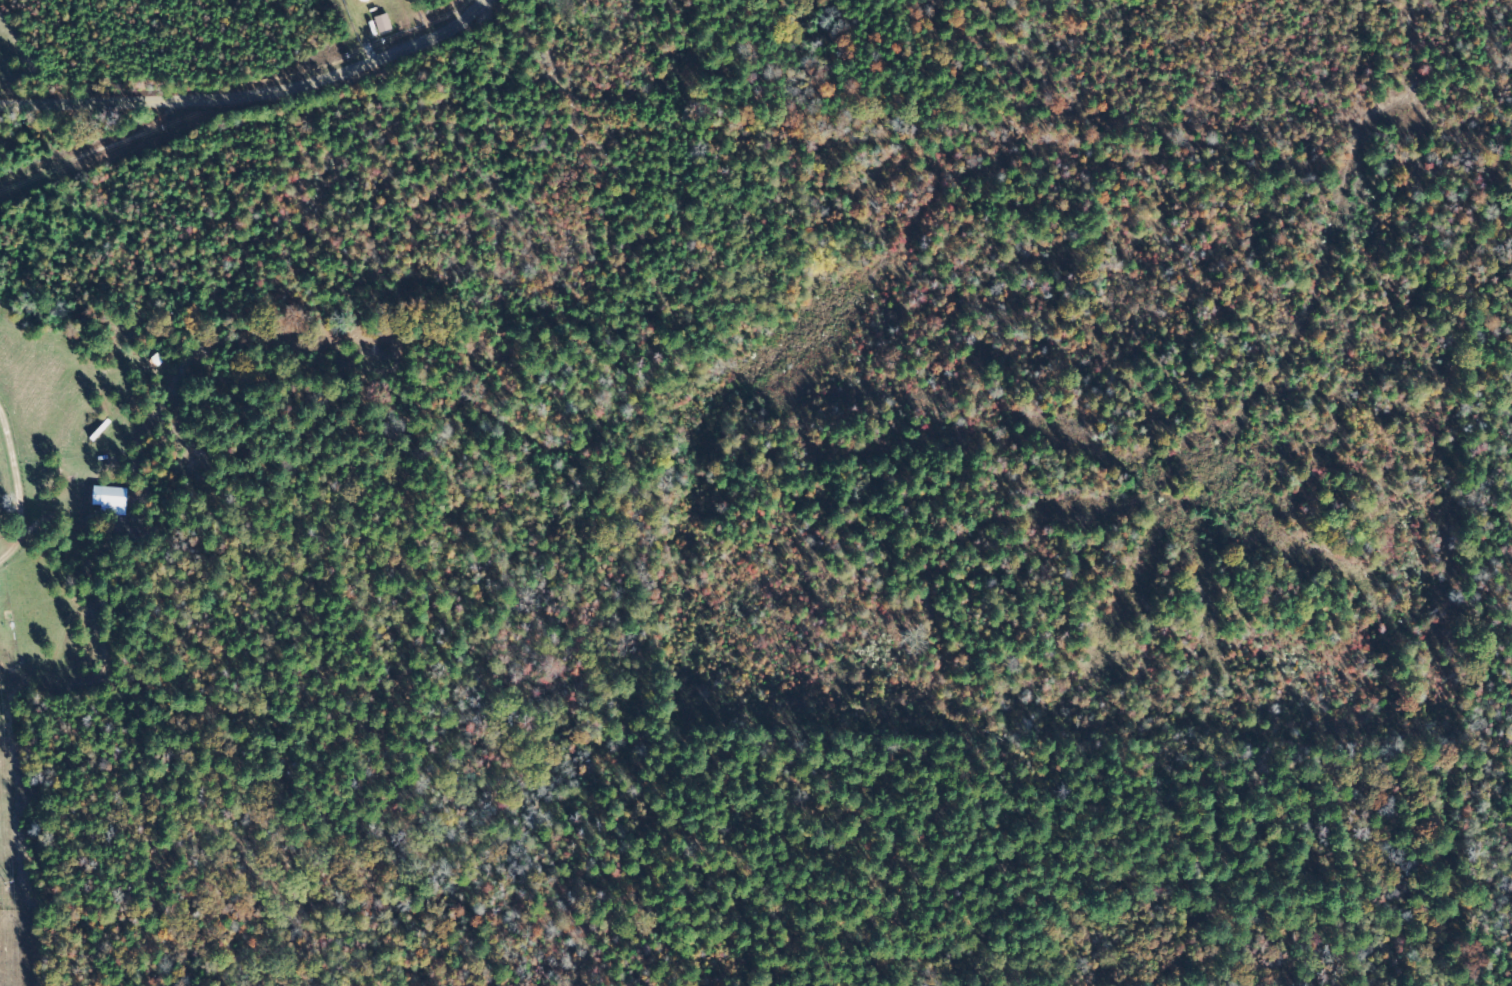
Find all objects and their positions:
road: (276, 122)

